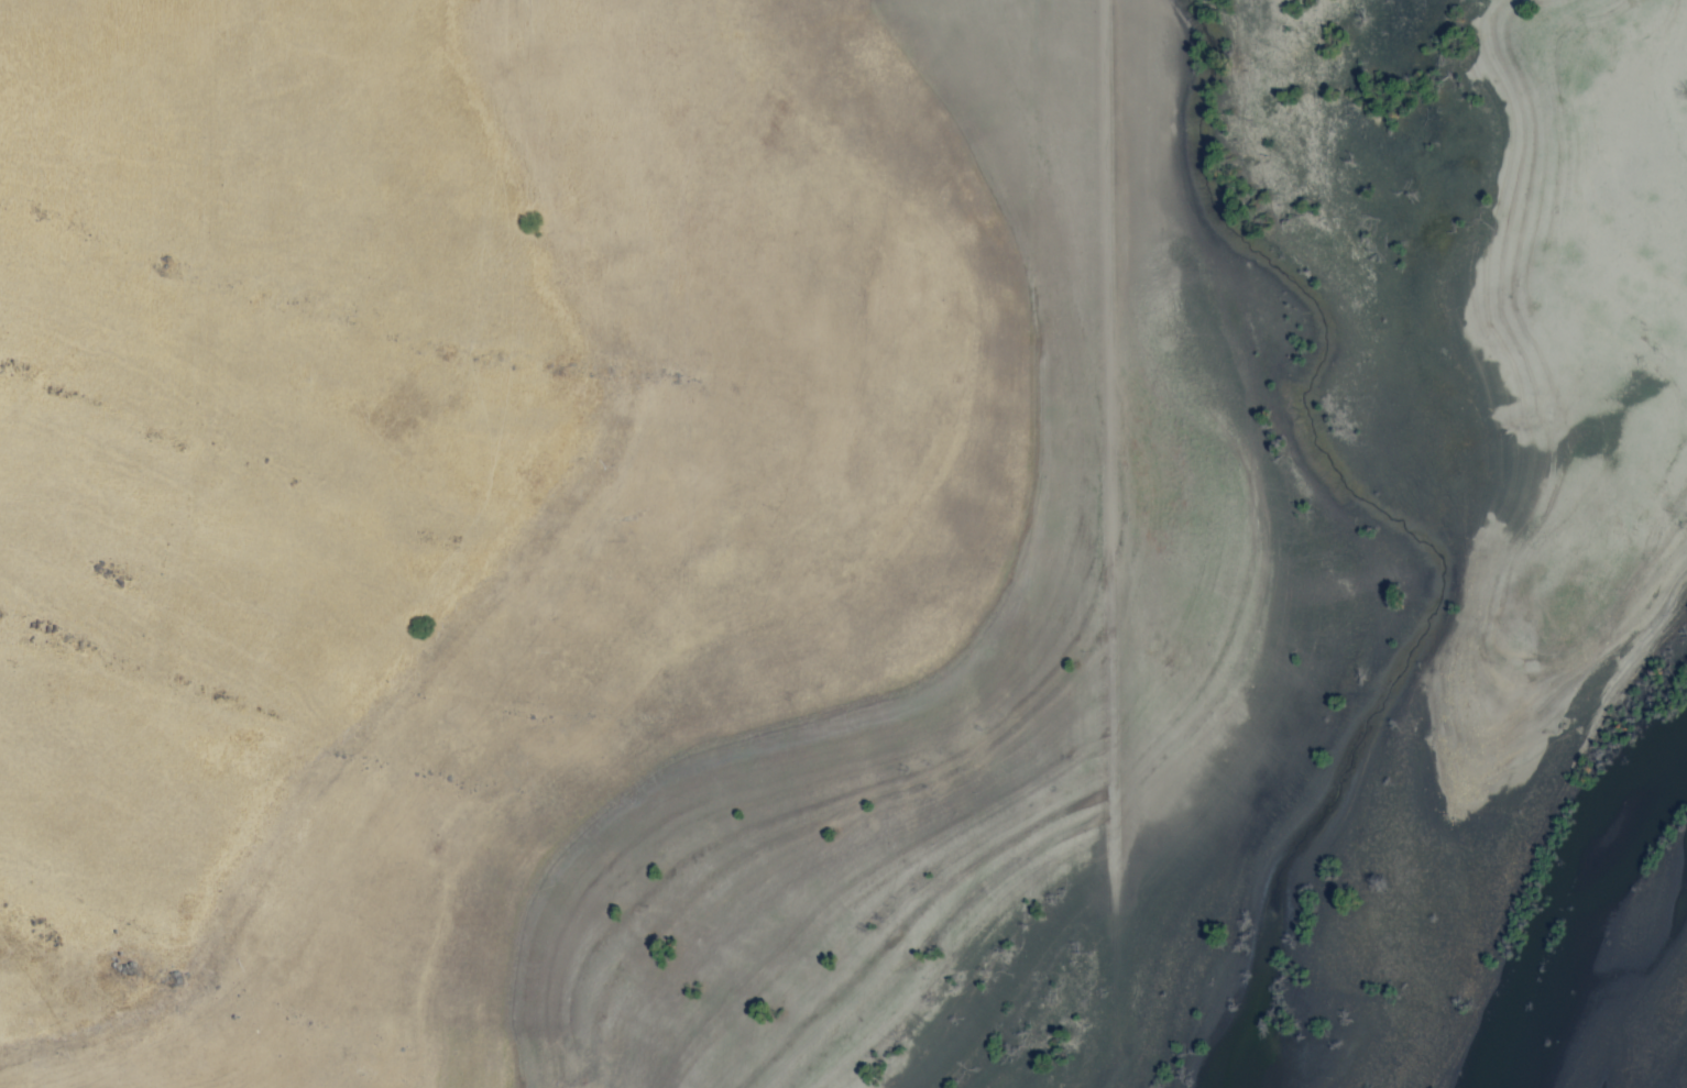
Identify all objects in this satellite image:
river: (1562, 883)

